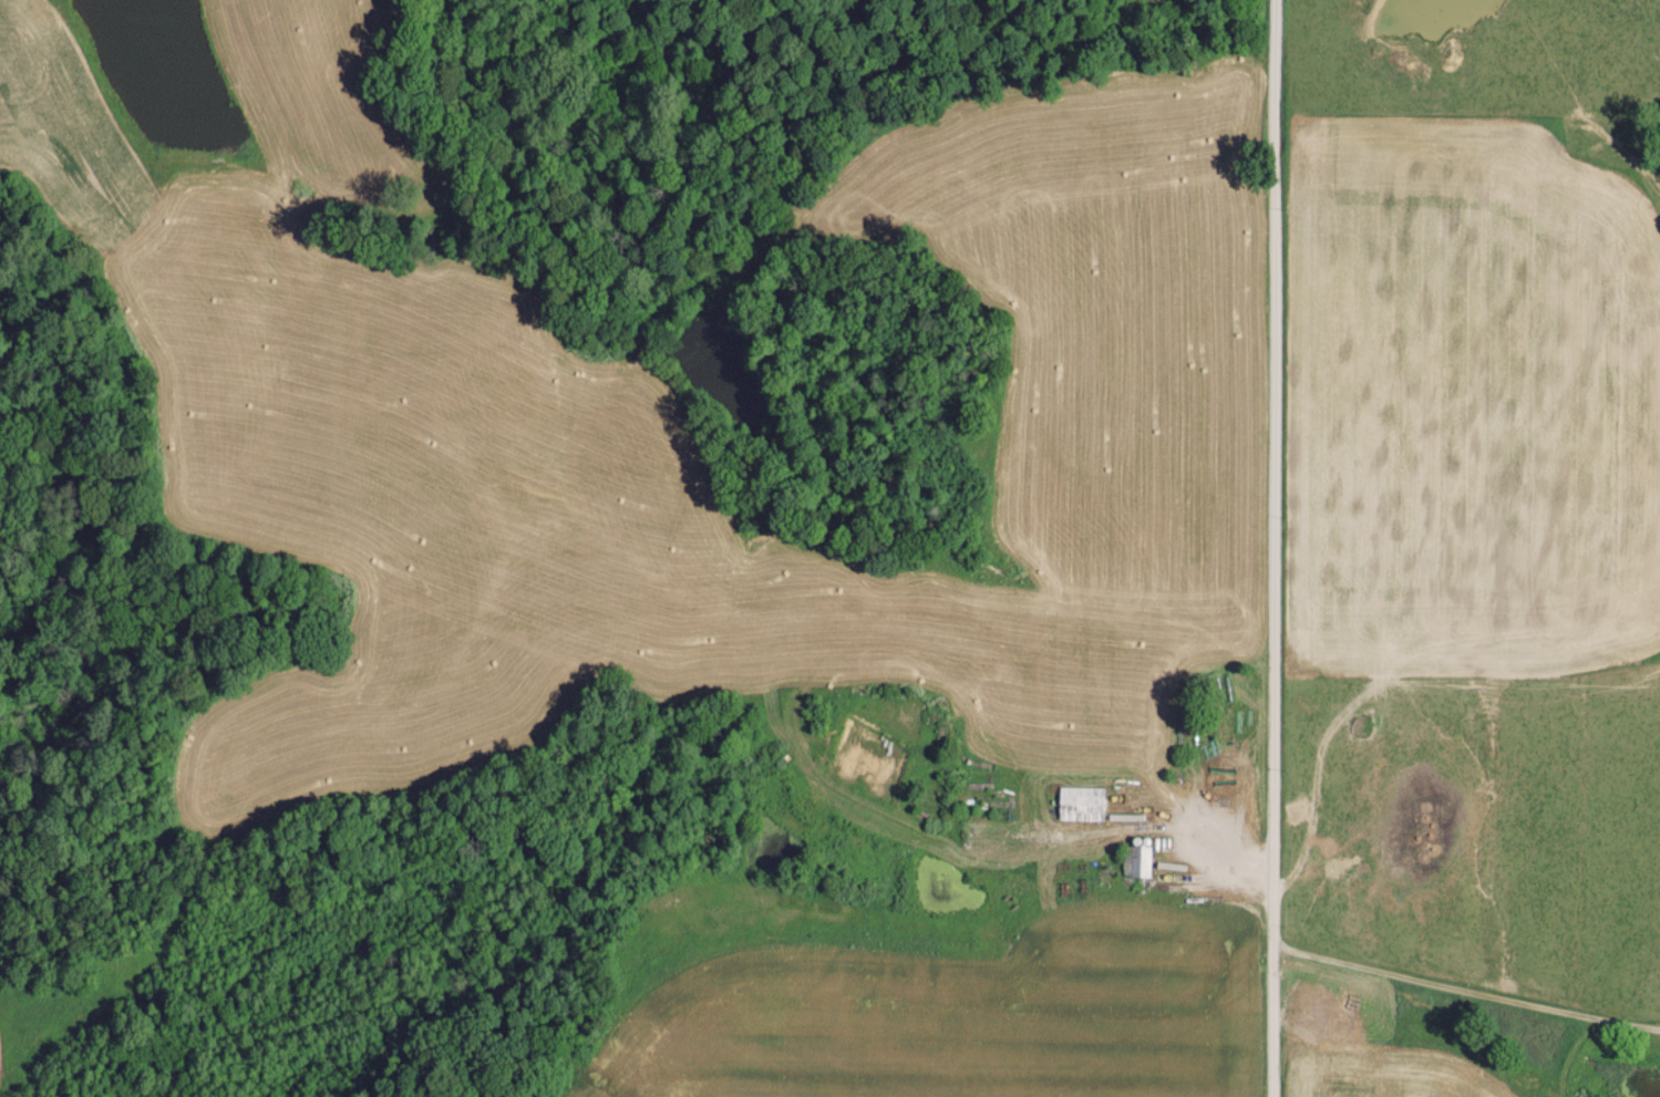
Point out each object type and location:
road: (1277, 548)
building: (1080, 803)
road: (1467, 991)

